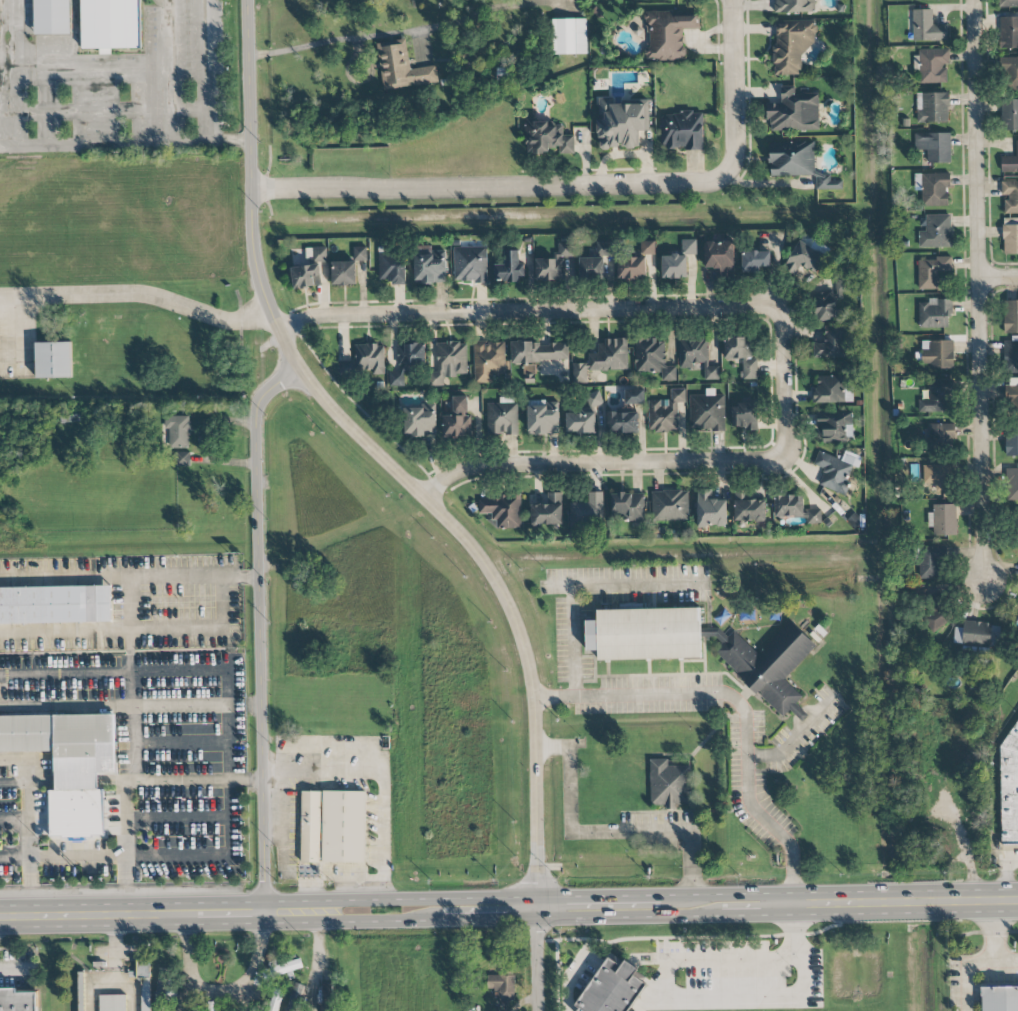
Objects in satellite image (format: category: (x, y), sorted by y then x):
building: (915, 0)
building: (1008, 3)
building: (794, 6)
building: (598, 12)
building: (53, 16)
building: (111, 24)
building: (927, 27)
building: (1009, 32)
building: (667, 34)
road: (13, 35)
building: (571, 37)
road: (330, 40)
building: (791, 48)
building: (932, 65)
building: (401, 67)
road: (83, 70)
road: (168, 71)
road: (206, 71)
building: (1009, 73)
building: (503, 75)
building: (447, 83)
road: (732, 89)
building: (932, 107)
road: (48, 108)
building: (794, 112)
road: (103, 113)
building: (1009, 115)
building: (621, 123)
building: (682, 131)
building: (547, 138)
road: (125, 144)
building: (934, 146)
building: (792, 159)
building: (1010, 162)
building: (829, 183)
road: (489, 186)
building: (933, 188)
building: (1010, 197)
building: (936, 232)
building: (1010, 236)
building: (647, 247)
building: (603, 248)
building: (565, 249)
building: (360, 253)
building: (319, 254)
building: (720, 258)
building: (805, 258)
building: (755, 260)
building: (470, 264)
building: (429, 265)
building: (675, 266)
building: (391, 267)
building: (633, 267)
building: (510, 268)
building: (592, 268)
building: (550, 269)
building: (932, 271)
building: (343, 273)
road: (1002, 274)
building: (305, 277)
road: (986, 290)
road: (138, 294)
building: (825, 306)
road: (527, 310)
building: (934, 313)
building: (1011, 316)
road: (17, 337)
building: (831, 343)
building: (540, 352)
building: (937, 354)
building: (411, 355)
building: (741, 355)
building: (1011, 355)
building: (696, 356)
building: (370, 358)
building: (653, 358)
building: (603, 359)
building: (54, 360)
building: (489, 360)
building: (449, 362)
road: (785, 382)
building: (832, 389)
building: (634, 395)
building: (1013, 395)
building: (936, 397)
building: (594, 398)
building: (665, 412)
road: (771, 414)
building: (745, 416)
building: (502, 417)
building: (543, 418)
building: (457, 420)
building: (419, 421)
building: (581, 422)
building: (621, 422)
building: (836, 426)
building: (178, 430)
building: (939, 436)
building: (1011, 441)
building: (183, 459)
road: (597, 463)
building: (836, 470)
building: (937, 477)
building: (1012, 484)
road: (420, 493)
building: (670, 505)
building: (627, 507)
building: (748, 508)
building: (795, 509)
building: (502, 510)
building: (548, 510)
building: (587, 510)
building: (710, 510)
building: (943, 519)
building: (1016, 525)
building: (930, 562)
road: (129, 578)
road: (627, 584)
building: (55, 605)
building: (935, 609)
road: (137, 630)
road: (260, 630)
building: (645, 634)
building: (977, 634)
road: (575, 641)
building: (767, 665)
road: (114, 673)
road: (131, 680)
road: (131, 708)
road: (741, 708)
road: (229, 726)
road: (795, 737)
road: (554, 748)
road: (14, 759)
building: (68, 765)
road: (380, 779)
road: (193, 781)
road: (15, 783)
building: (669, 784)
road: (571, 790)
building: (1009, 791)
road: (226, 818)
road: (174, 819)
road: (15, 820)
building: (311, 827)
building: (345, 827)
road: (631, 832)
road: (31, 836)
road: (123, 847)
road: (113, 857)
road: (692, 863)
road: (1008, 876)
road: (744, 893)
road: (617, 896)
road: (429, 898)
road: (905, 902)
road: (159, 913)
road: (744, 915)
road: (617, 918)
road: (492, 919)
road: (380, 921)
road: (794, 931)
road: (319, 946)
road: (799, 960)
road: (1006, 961)
road: (989, 962)
road: (116, 965)
road: (576, 979)
building: (144, 983)
building: (500, 985)
road: (99, 986)
building: (611, 988)
road: (224, 990)
building: (81, 993)
building: (328, 996)
road: (646, 996)
road: (192, 998)
building: (295, 998)
road: (240, 999)
building: (275, 999)
building: (1000, 999)
building: (17, 1000)
building: (113, 1003)

